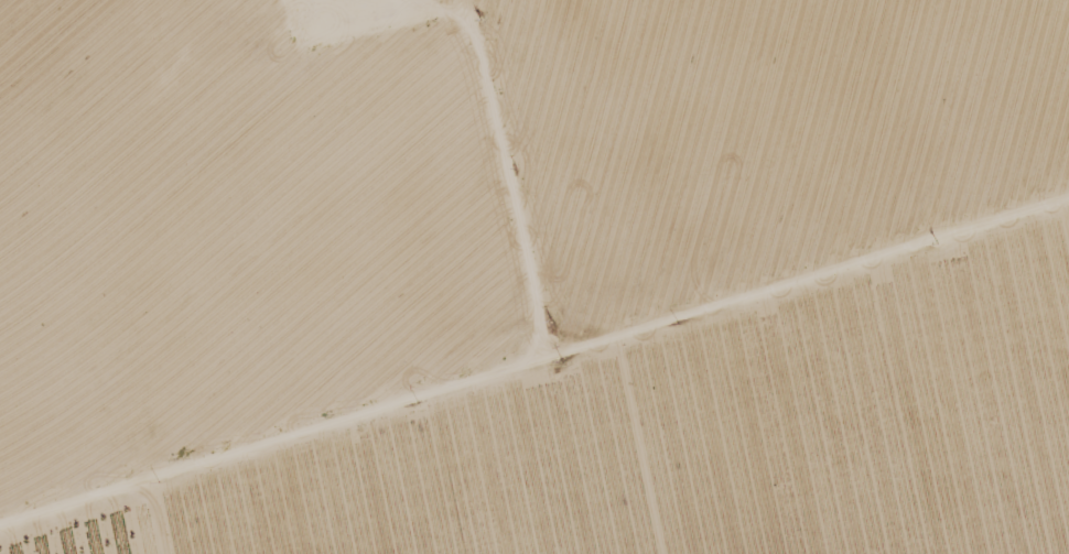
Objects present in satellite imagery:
road: (478, 195)
road: (548, 381)
road: (251, 530)

